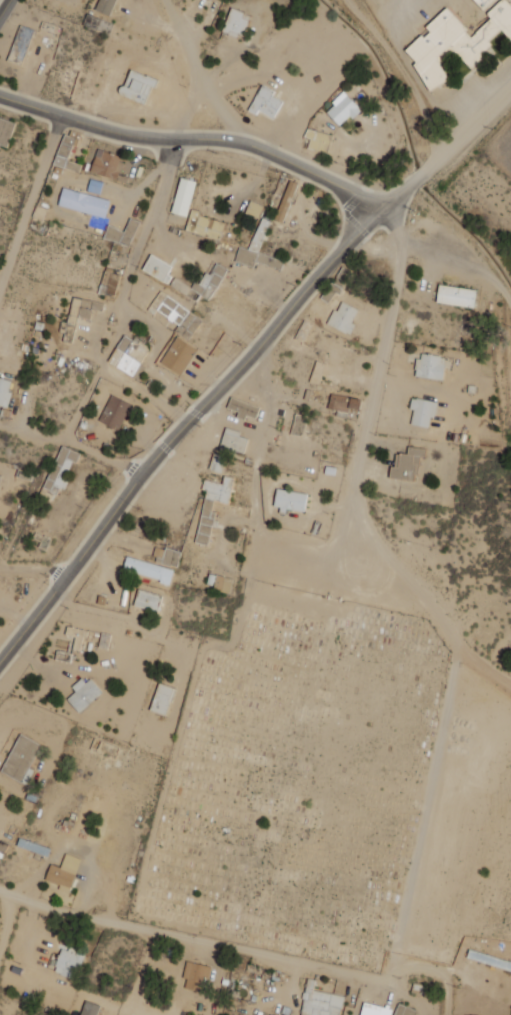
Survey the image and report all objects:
building: (482, 3)
building: (105, 6)
road: (4, 7)
building: (92, 22)
building: (236, 23)
building: (455, 41)
building: (20, 45)
road: (200, 73)
building: (137, 86)
building: (265, 102)
road: (30, 106)
building: (342, 108)
road: (470, 129)
building: (5, 131)
road: (226, 139)
building: (318, 140)
building: (67, 151)
building: (106, 164)
road: (418, 176)
building: (95, 186)
building: (183, 196)
road: (30, 199)
building: (285, 201)
building: (83, 202)
building: (254, 208)
building: (204, 225)
building: (122, 232)
building: (257, 250)
building: (156, 267)
building: (104, 285)
building: (184, 289)
road: (123, 291)
building: (330, 291)
building: (455, 295)
building: (176, 314)
building: (77, 315)
building: (342, 317)
building: (178, 355)
building: (129, 356)
building: (429, 366)
building: (321, 375)
building: (4, 391)
building: (342, 404)
building: (243, 408)
building: (422, 411)
building: (114, 412)
road: (194, 414)
road: (370, 418)
road: (72, 444)
building: (227, 447)
building: (406, 463)
building: (58, 473)
building: (184, 482)
building: (290, 499)
building: (211, 505)
road: (33, 566)
building: (147, 569)
building: (146, 600)
building: (83, 693)
building: (161, 699)
building: (20, 758)
park: (294, 777)
building: (63, 872)
road: (202, 943)
building: (68, 963)
building: (374, 1009)
building: (270, 1014)

